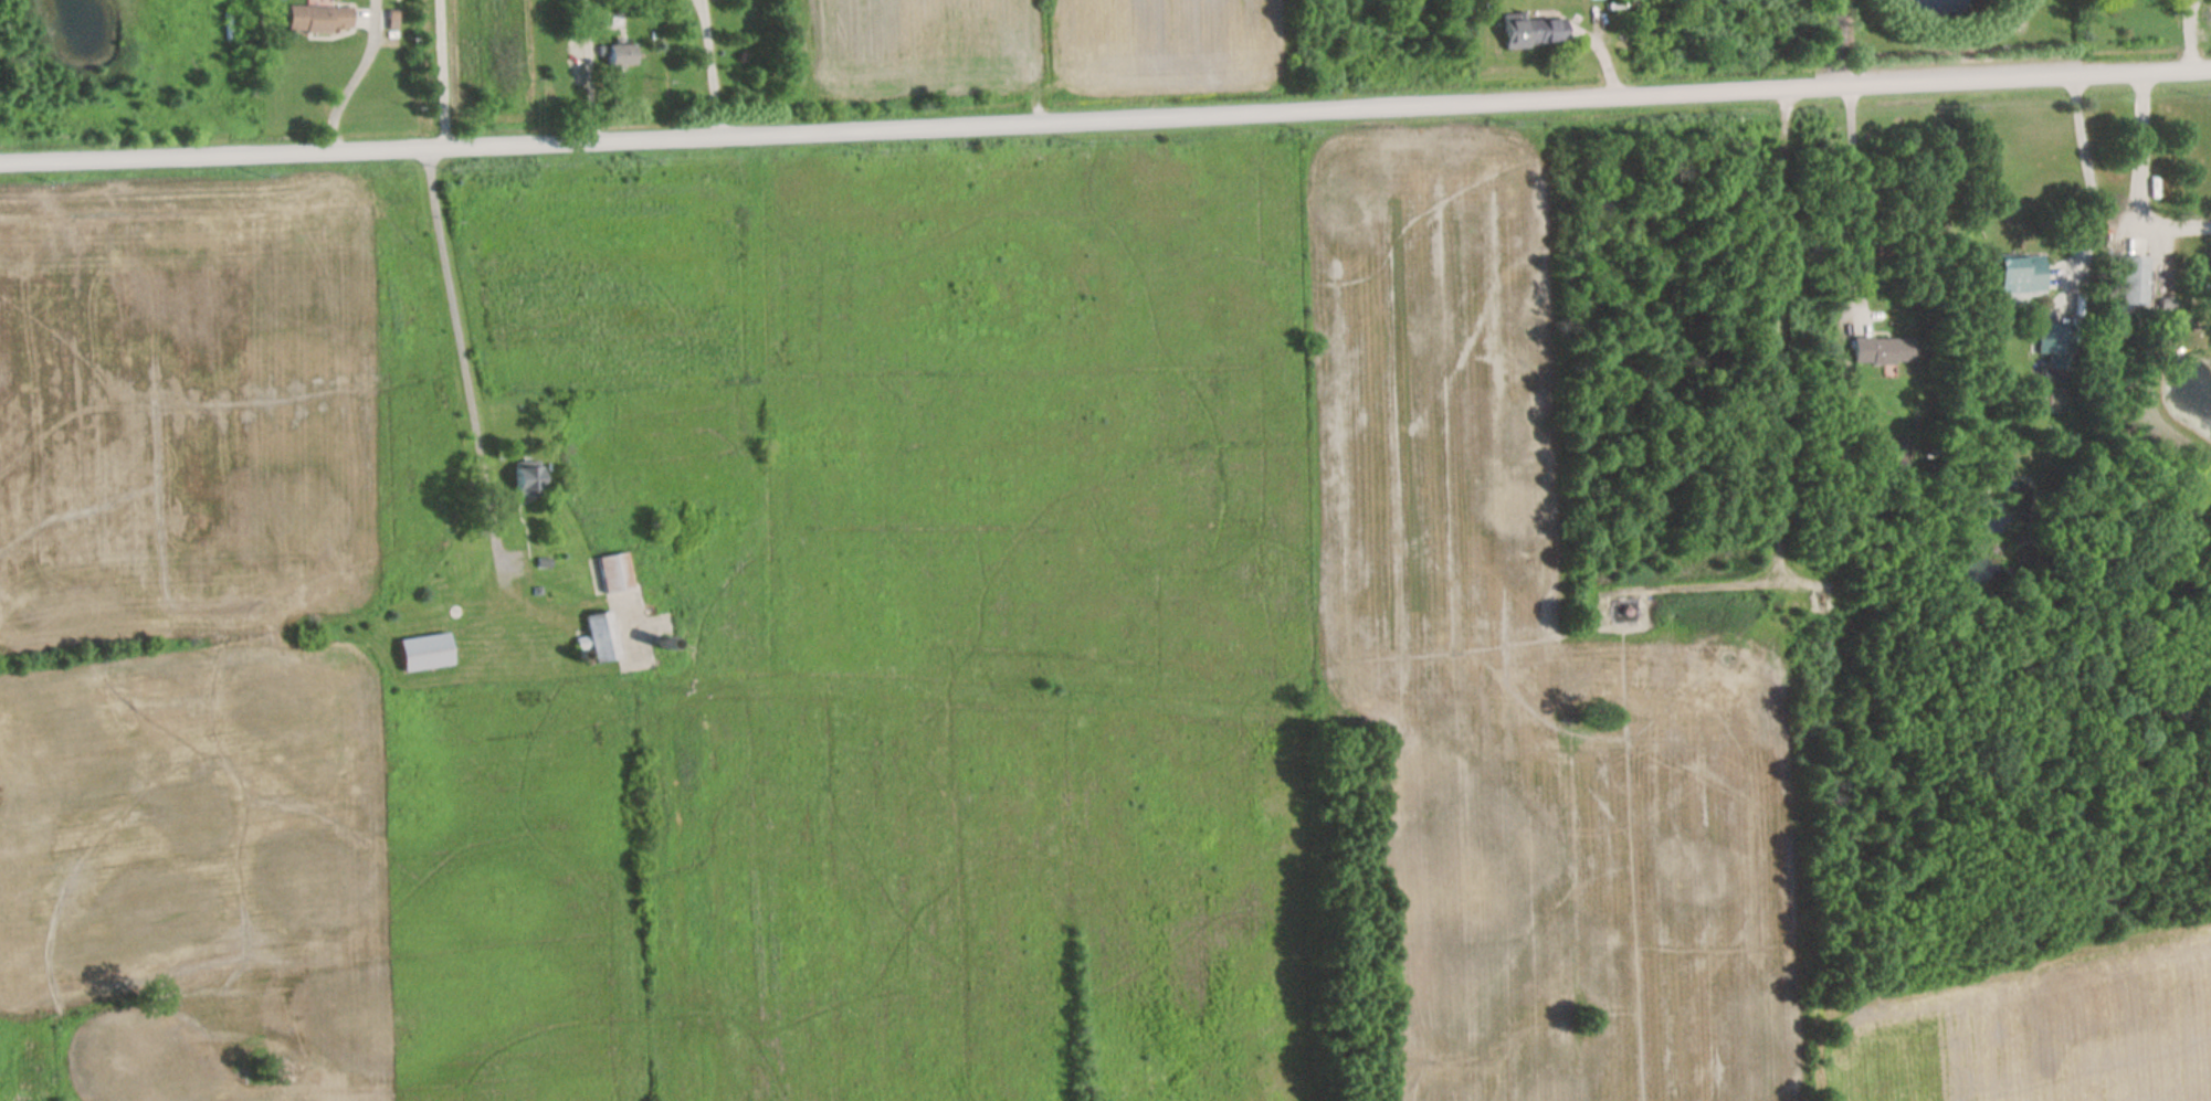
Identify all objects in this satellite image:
building: (314, 20)
building: (1529, 33)
road: (2189, 33)
road: (1836, 42)
crop: (905, 43)
crop: (1165, 45)
building: (615, 55)
road: (708, 65)
road: (438, 72)
road: (350, 82)
road: (1105, 115)
road: (2087, 176)
road: (2135, 184)
building: (2015, 279)
building: (2130, 280)
road: (450, 328)
building: (1881, 350)
building: (529, 481)
building: (615, 573)
building: (602, 637)
building: (425, 652)

